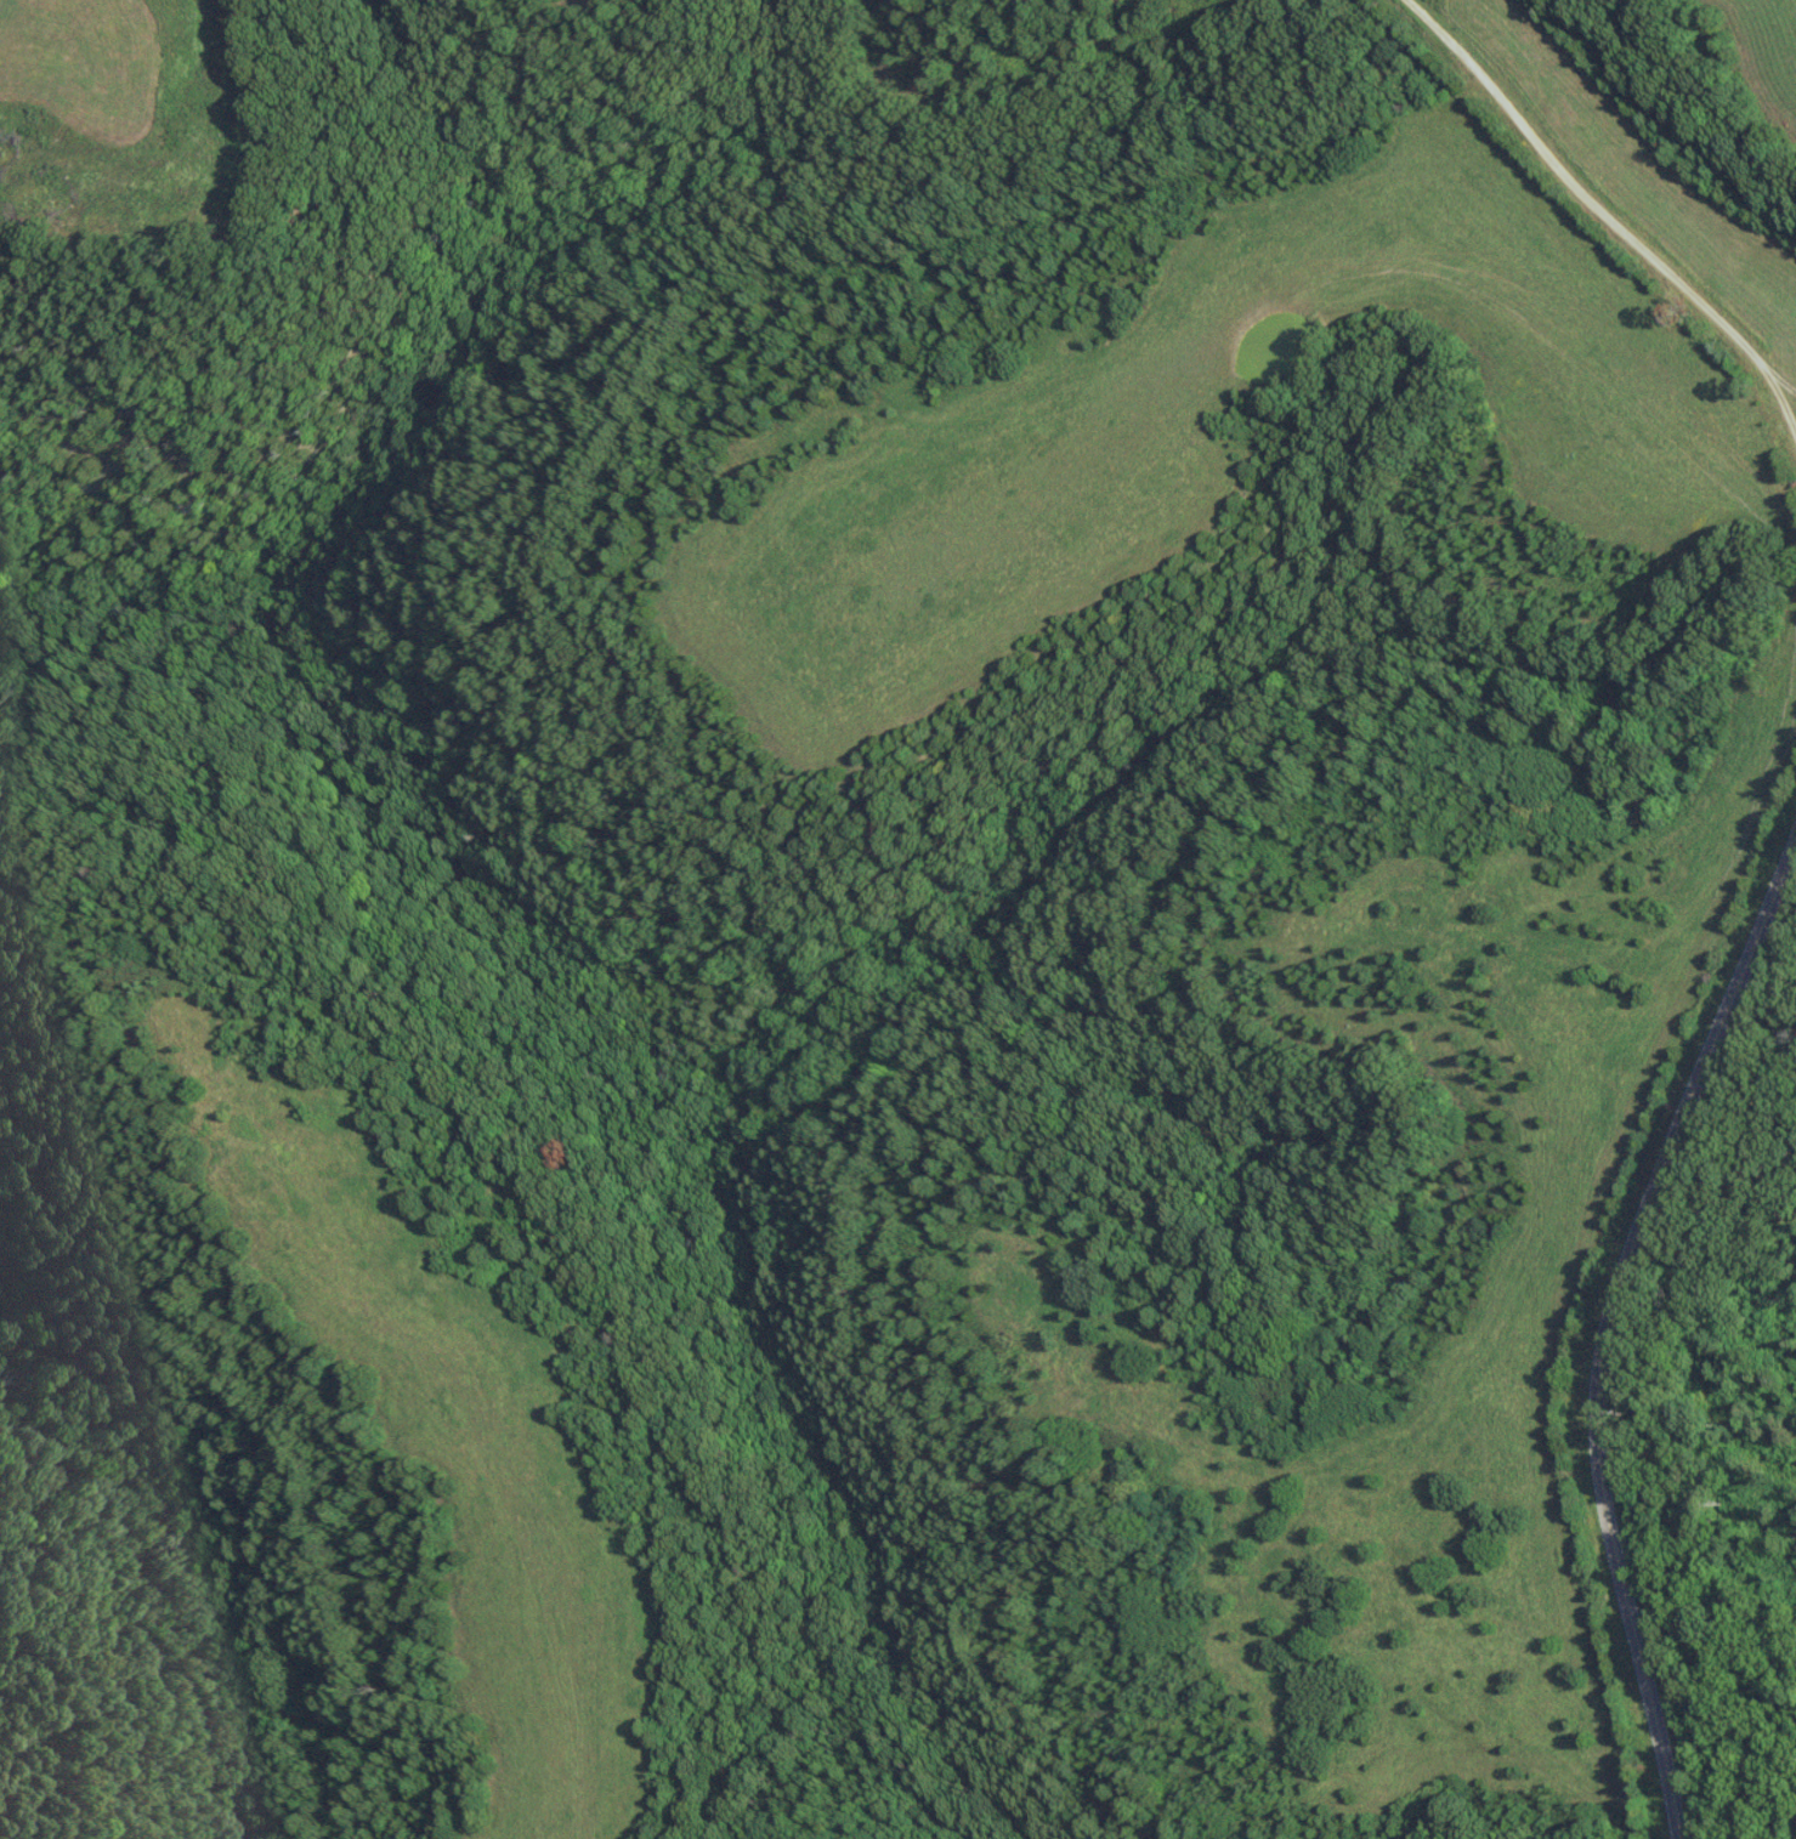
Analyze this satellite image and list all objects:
road: (1610, 1328)

